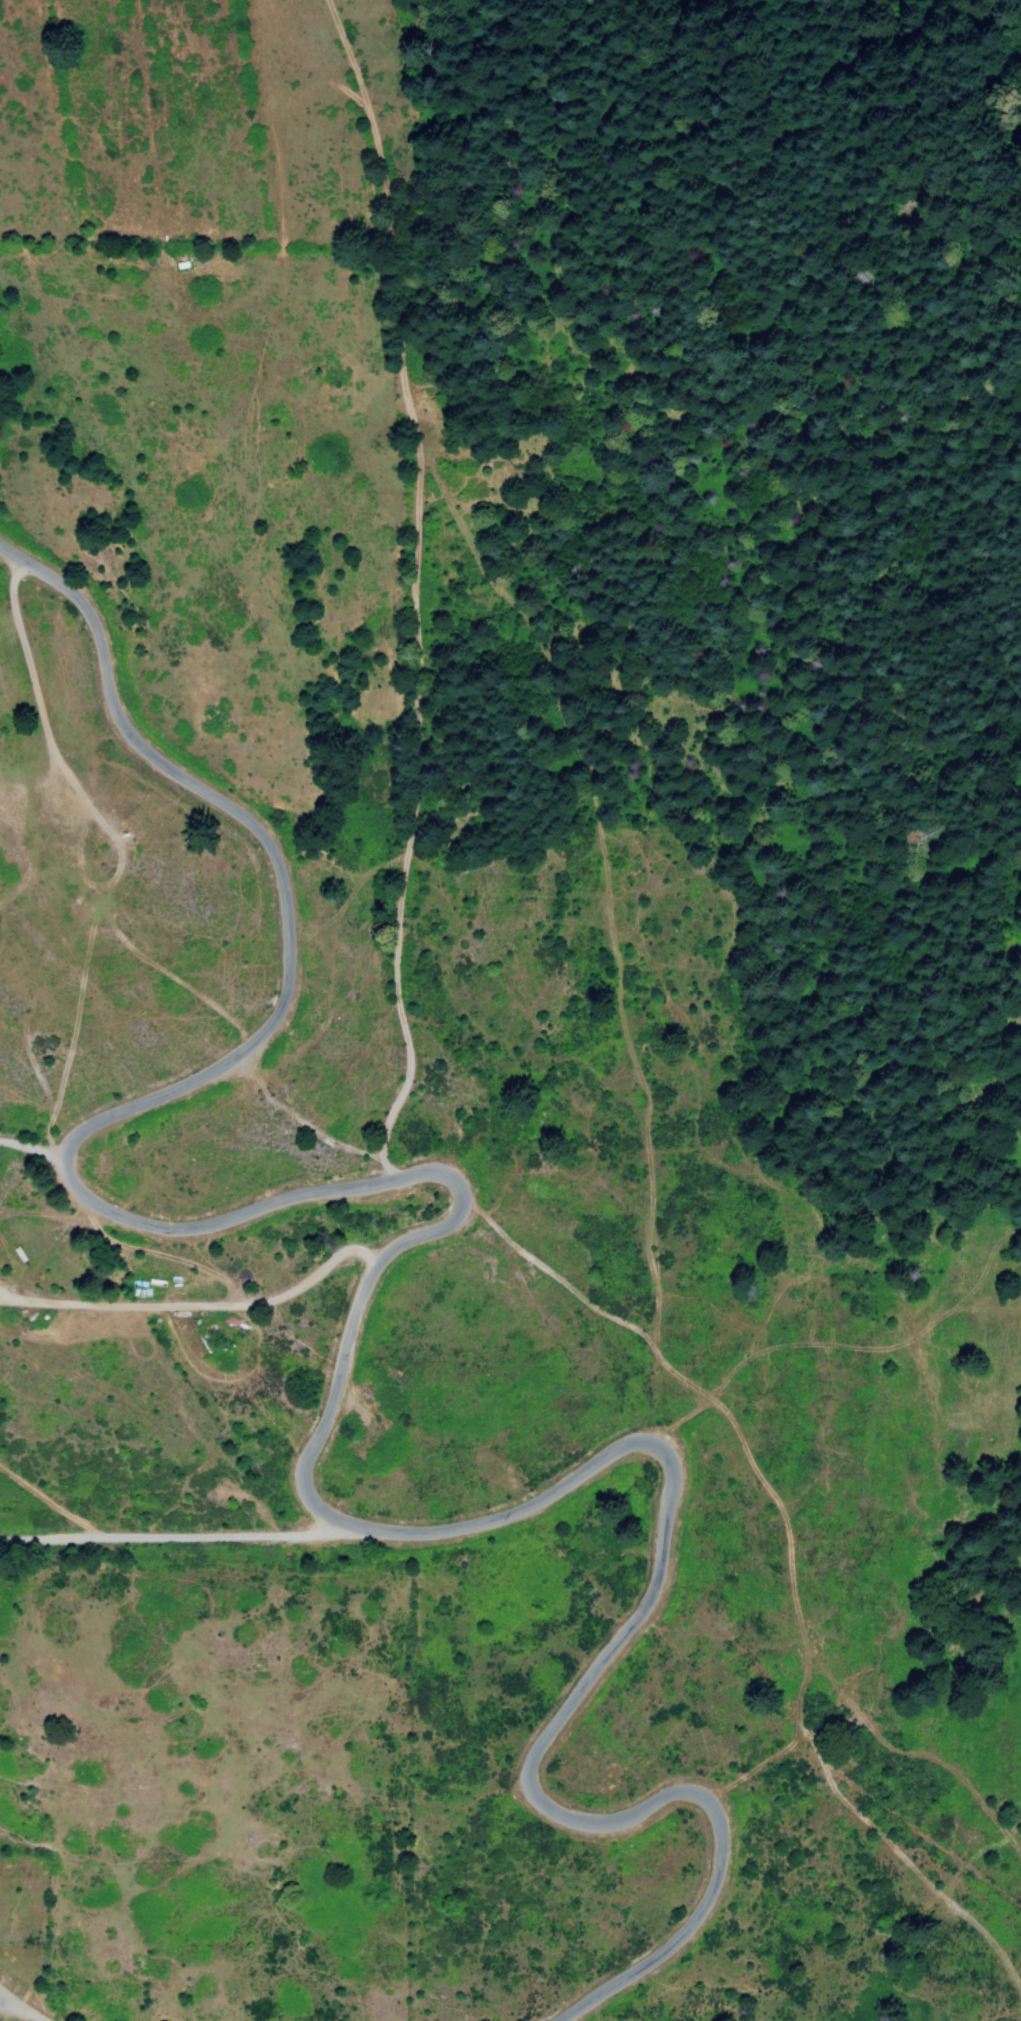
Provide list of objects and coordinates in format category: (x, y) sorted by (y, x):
road: (415, 593)
road: (32, 1152)
road: (361, 1304)
road: (178, 1538)
road: (22, 2010)

